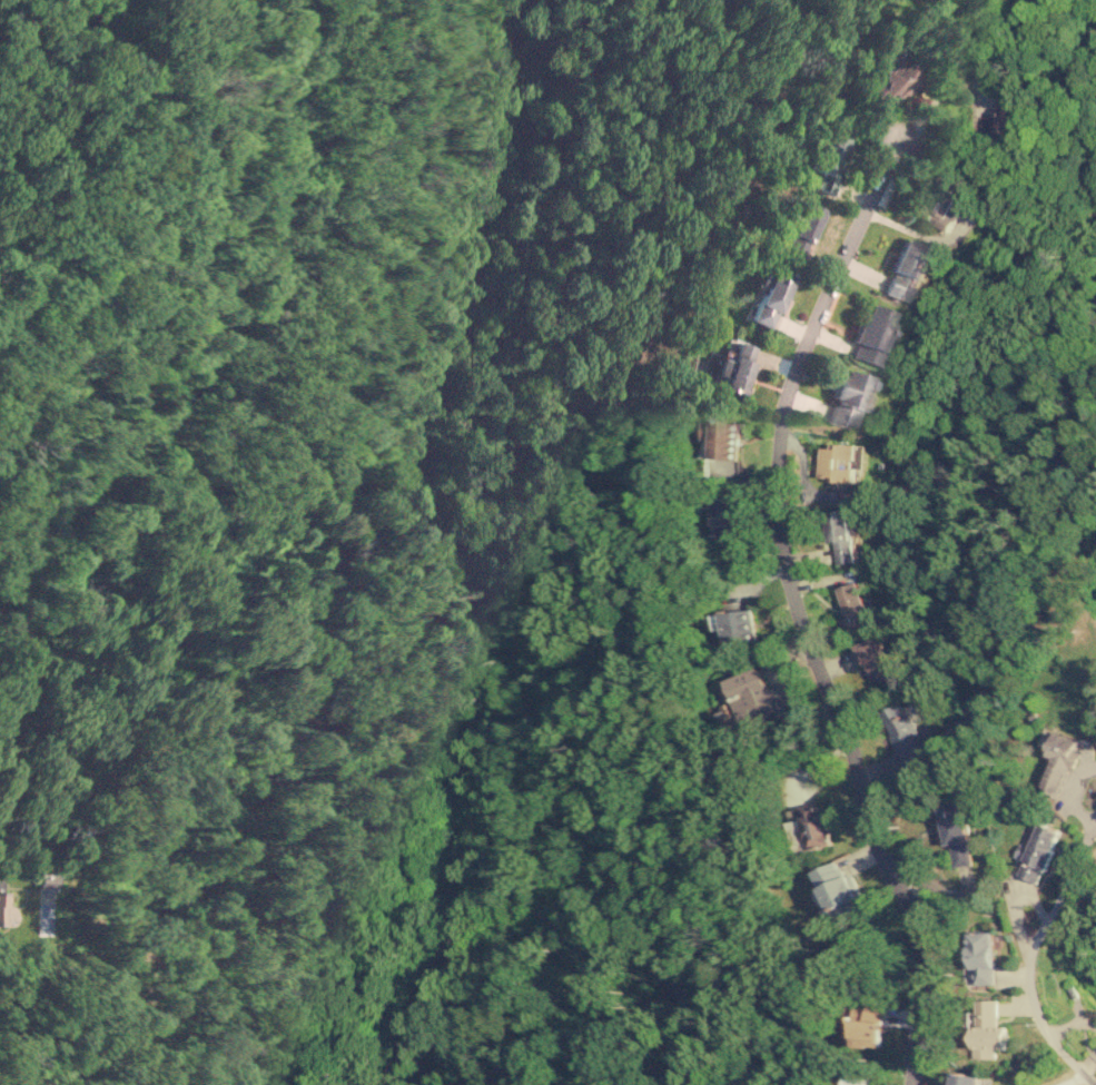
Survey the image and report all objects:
building: (892, 76)
building: (997, 118)
building: (828, 151)
building: (800, 231)
building: (904, 269)
building: (768, 296)
building: (870, 332)
building: (737, 367)
building: (846, 397)
building: (722, 441)
building: (838, 460)
building: (729, 521)
building: (840, 536)
building: (853, 604)
road: (806, 617)
building: (737, 624)
building: (875, 659)
building: (759, 693)
building: (904, 734)
building: (1057, 761)
building: (956, 835)
building: (1036, 851)
building: (47, 880)
building: (839, 889)
building: (2, 902)
road: (1029, 953)
building: (981, 957)
building: (870, 1024)
building: (985, 1029)
building: (965, 1078)
building: (861, 1081)

